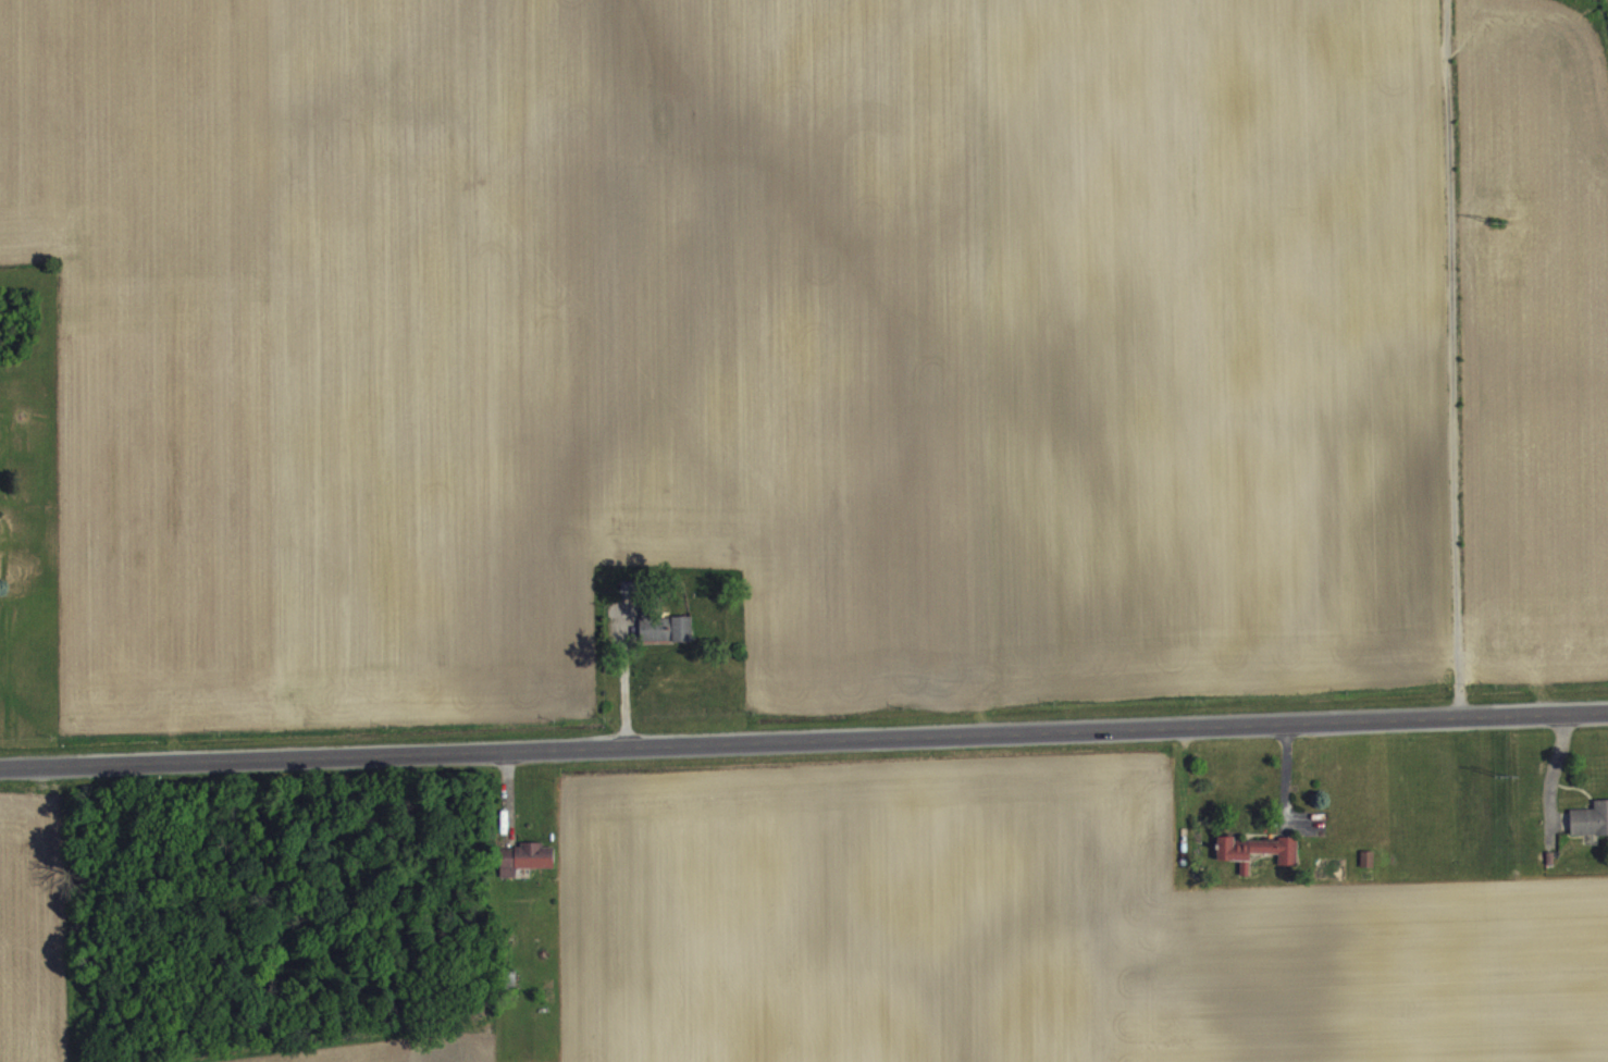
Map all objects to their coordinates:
road: (1455, 357)
building: (629, 602)
building: (665, 640)
road: (628, 680)
road: (804, 739)
building: (1590, 832)
building: (1258, 864)
building: (525, 870)
building: (1368, 872)

